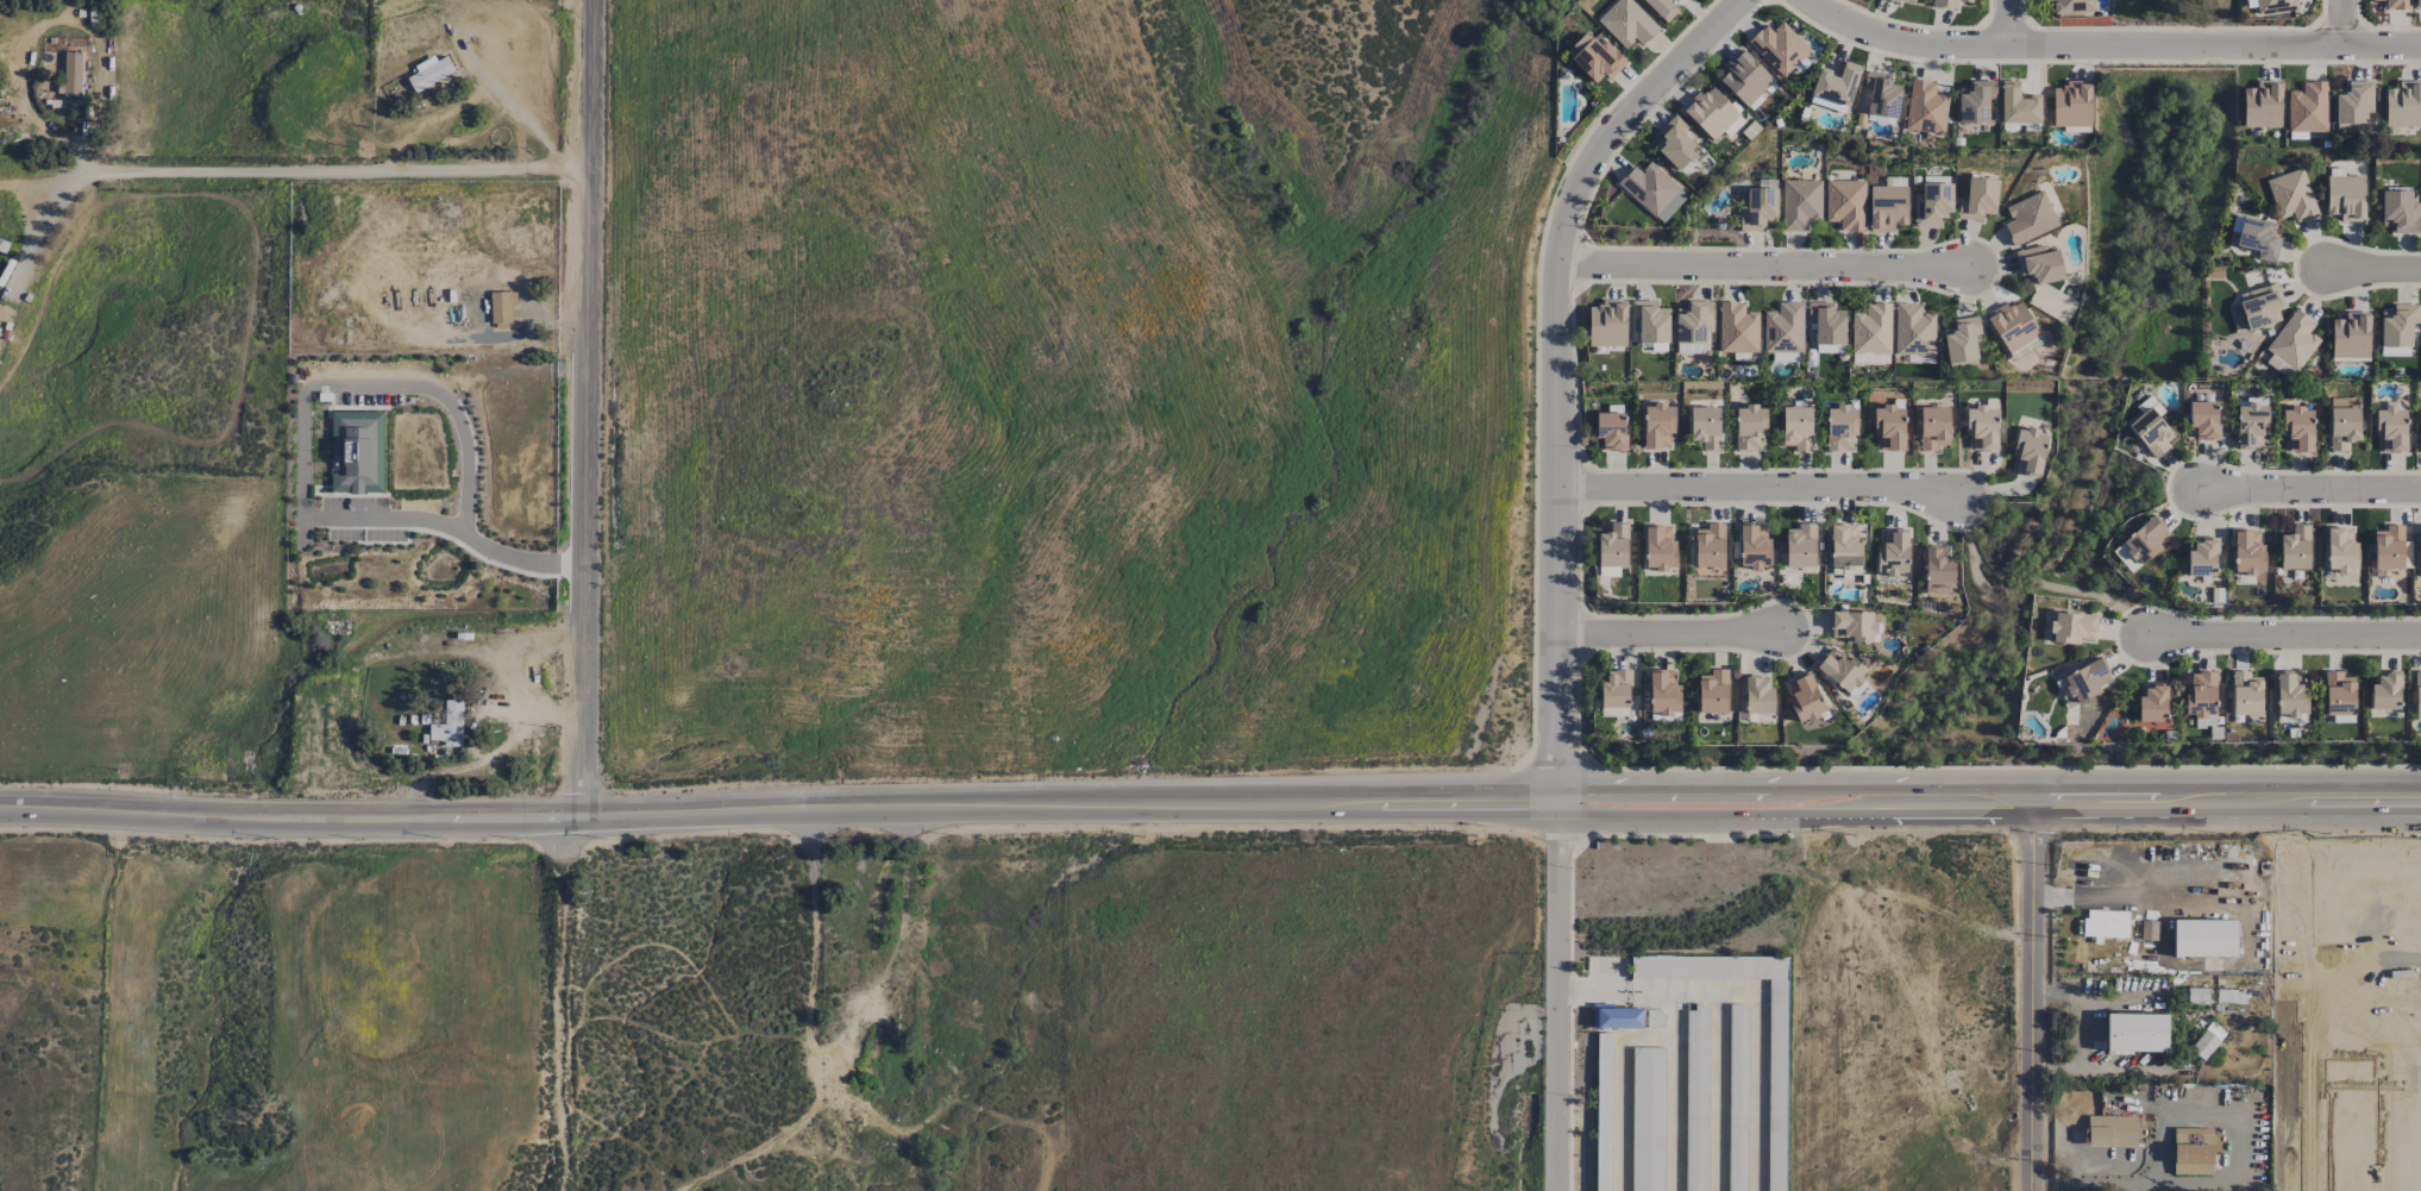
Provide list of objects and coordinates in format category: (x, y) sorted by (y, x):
building: (1895, 0)
building: (1913, 0)
building: (1948, 4)
building: (2397, 5)
building: (2417, 5)
building: (2072, 6)
building: (2275, 6)
building: (1662, 8)
building: (1627, 23)
road: (2009, 23)
road: (2342, 23)
road: (2105, 45)
building: (1780, 48)
building: (1595, 57)
building: (431, 73)
building: (73, 74)
building: (1834, 87)
building: (1882, 95)
building: (1975, 101)
building: (2354, 102)
building: (2071, 104)
building: (2263, 104)
building: (2018, 105)
building: (2403, 105)
building: (1926, 107)
building: (2308, 107)
building: (1710, 112)
building: (1733, 126)
building: (1675, 143)
road: (319, 175)
building: (1652, 190)
building: (2291, 195)
building: (2346, 198)
building: (1978, 199)
building: (1801, 203)
building: (1846, 203)
building: (1933, 203)
building: (1888, 205)
building: (1758, 208)
building: (2400, 209)
building: (2028, 218)
road: (44, 231)
building: (2258, 237)
building: (2039, 264)
road: (1760, 267)
road: (2379, 269)
building: (502, 307)
building: (2257, 307)
road: (535, 312)
building: (1651, 321)
building: (1694, 321)
building: (1827, 322)
building: (1608, 324)
building: (2398, 325)
building: (1737, 328)
building: (1785, 328)
building: (2015, 328)
building: (0, 330)
building: (1871, 330)
building: (1914, 330)
building: (2351, 336)
building: (1962, 340)
building: (2294, 340)
building: (1830, 349)
building: (2395, 351)
building: (1870, 358)
building: (2279, 366)
road: (510, 371)
road: (370, 385)
road: (592, 410)
building: (2204, 419)
building: (2251, 422)
building: (2344, 422)
building: (1658, 425)
building: (1750, 426)
building: (1705, 427)
building: (1840, 427)
building: (1889, 427)
building: (1933, 427)
building: (1982, 427)
building: (1798, 428)
building: (2297, 428)
building: (1611, 430)
building: (2391, 430)
building: (2151, 431)
building: (2028, 451)
building: (356, 452)
road: (1757, 488)
road: (2314, 490)
building: (2140, 544)
building: (2420, 544)
building: (1613, 545)
building: (1754, 545)
building: (1801, 545)
building: (1845, 545)
building: (1710, 546)
building: (2296, 547)
building: (2389, 547)
building: (1660, 549)
building: (2341, 550)
building: (2248, 552)
building: (1893, 553)
building: (2202, 557)
road: (1557, 563)
building: (1938, 565)
building: (1846, 571)
building: (1852, 626)
building: (2072, 627)
road: (1669, 633)
road: (2288, 637)
building: (1842, 669)
building: (2084, 682)
building: (1616, 689)
building: (1713, 691)
building: (2385, 691)
building: (2416, 691)
building: (1664, 692)
building: (2246, 694)
building: (2290, 694)
building: (2339, 694)
building: (1758, 696)
building: (1804, 697)
building: (2201, 698)
building: (2152, 703)
building: (449, 725)
road: (1210, 791)
road: (1210, 814)
road: (2243, 903)
building: (2106, 924)
building: (2204, 938)
road: (2043, 986)
road: (1614, 988)
building: (2197, 996)
building: (1617, 1017)
building: (2137, 1032)
building: (2207, 1041)
road: (1756, 1047)
road: (1618, 1060)
road: (1716, 1089)
road: (1673, 1114)
building: (2112, 1130)
building: (2193, 1151)
road: (2232, 1166)

